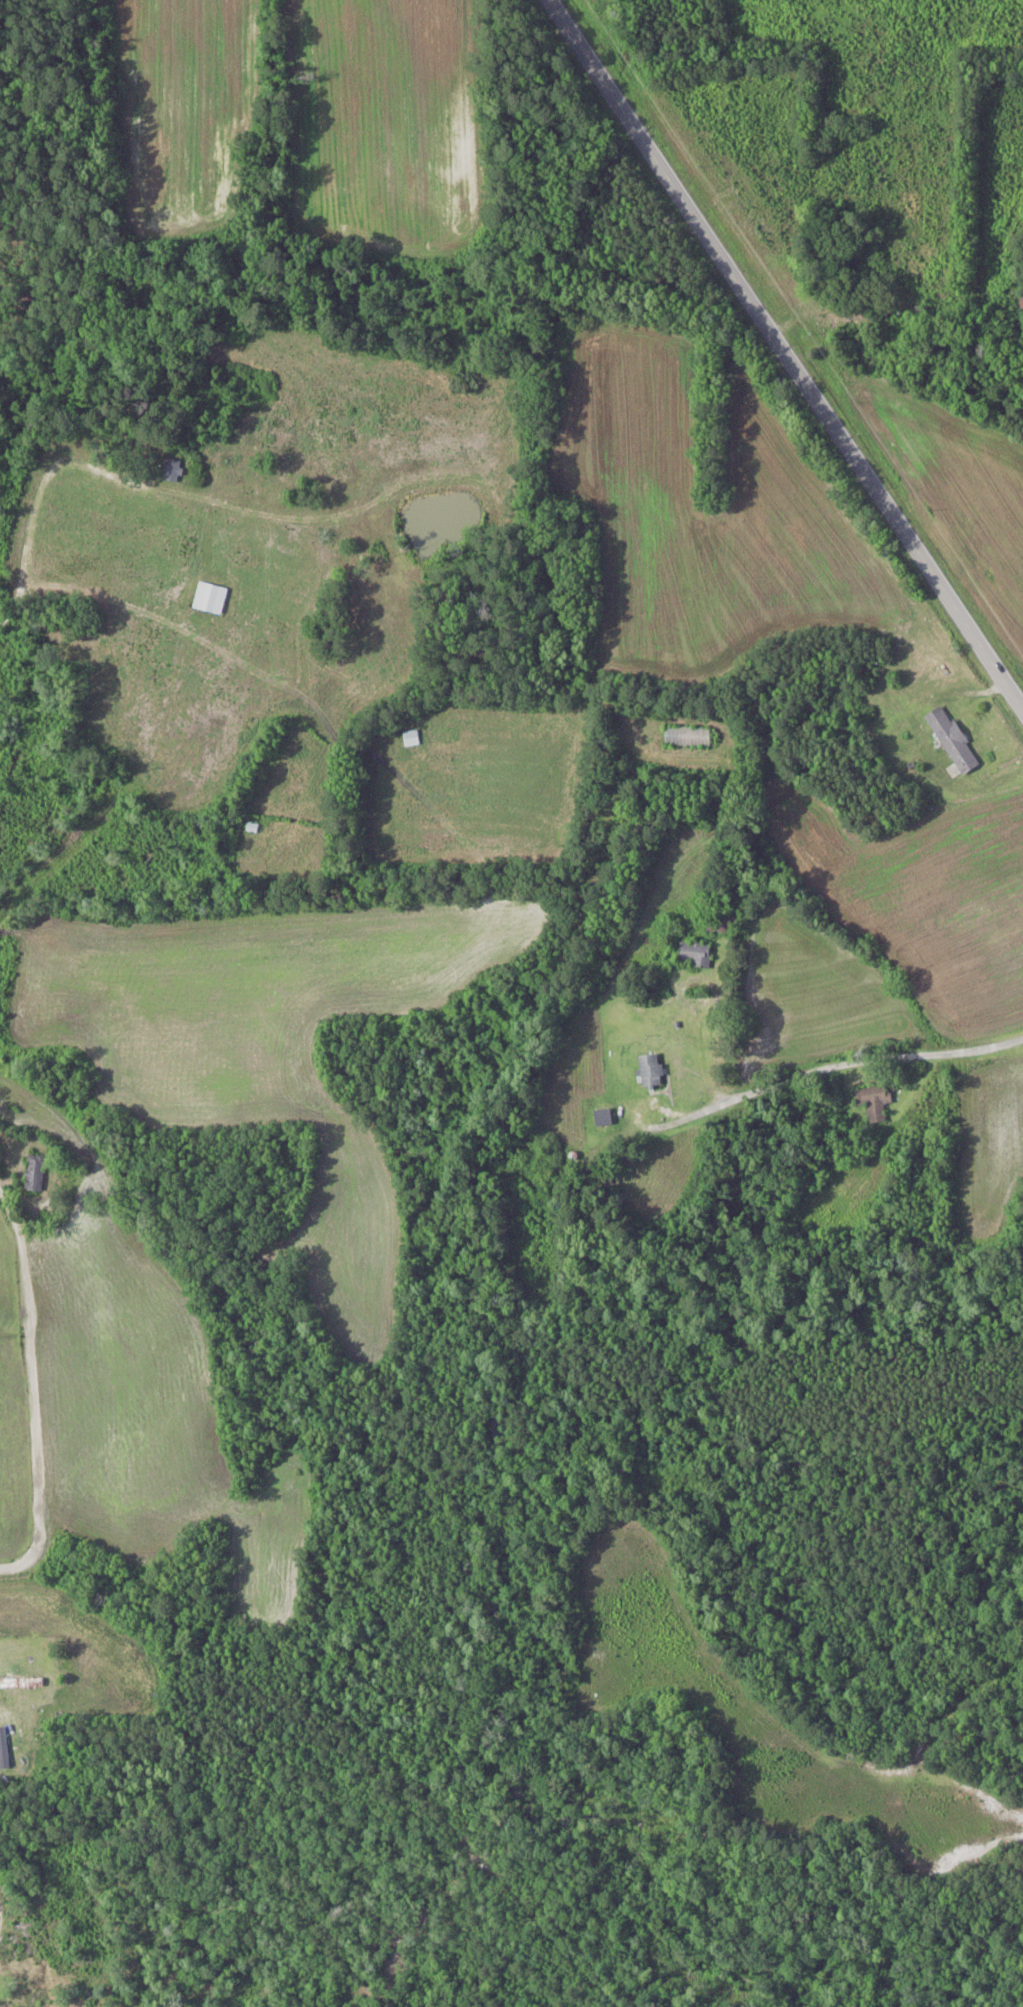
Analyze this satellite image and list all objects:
road: (808, 221)
building: (1022, 301)
road: (785, 355)
building: (176, 467)
building: (838, 729)
building: (954, 740)
building: (722, 923)
building: (696, 954)
building: (639, 1017)
building: (651, 1070)
road: (753, 1087)
building: (874, 1102)
building: (36, 1173)
road: (102, 1505)
road: (130, 1505)
building: (21, 1682)
building: (3, 1747)

